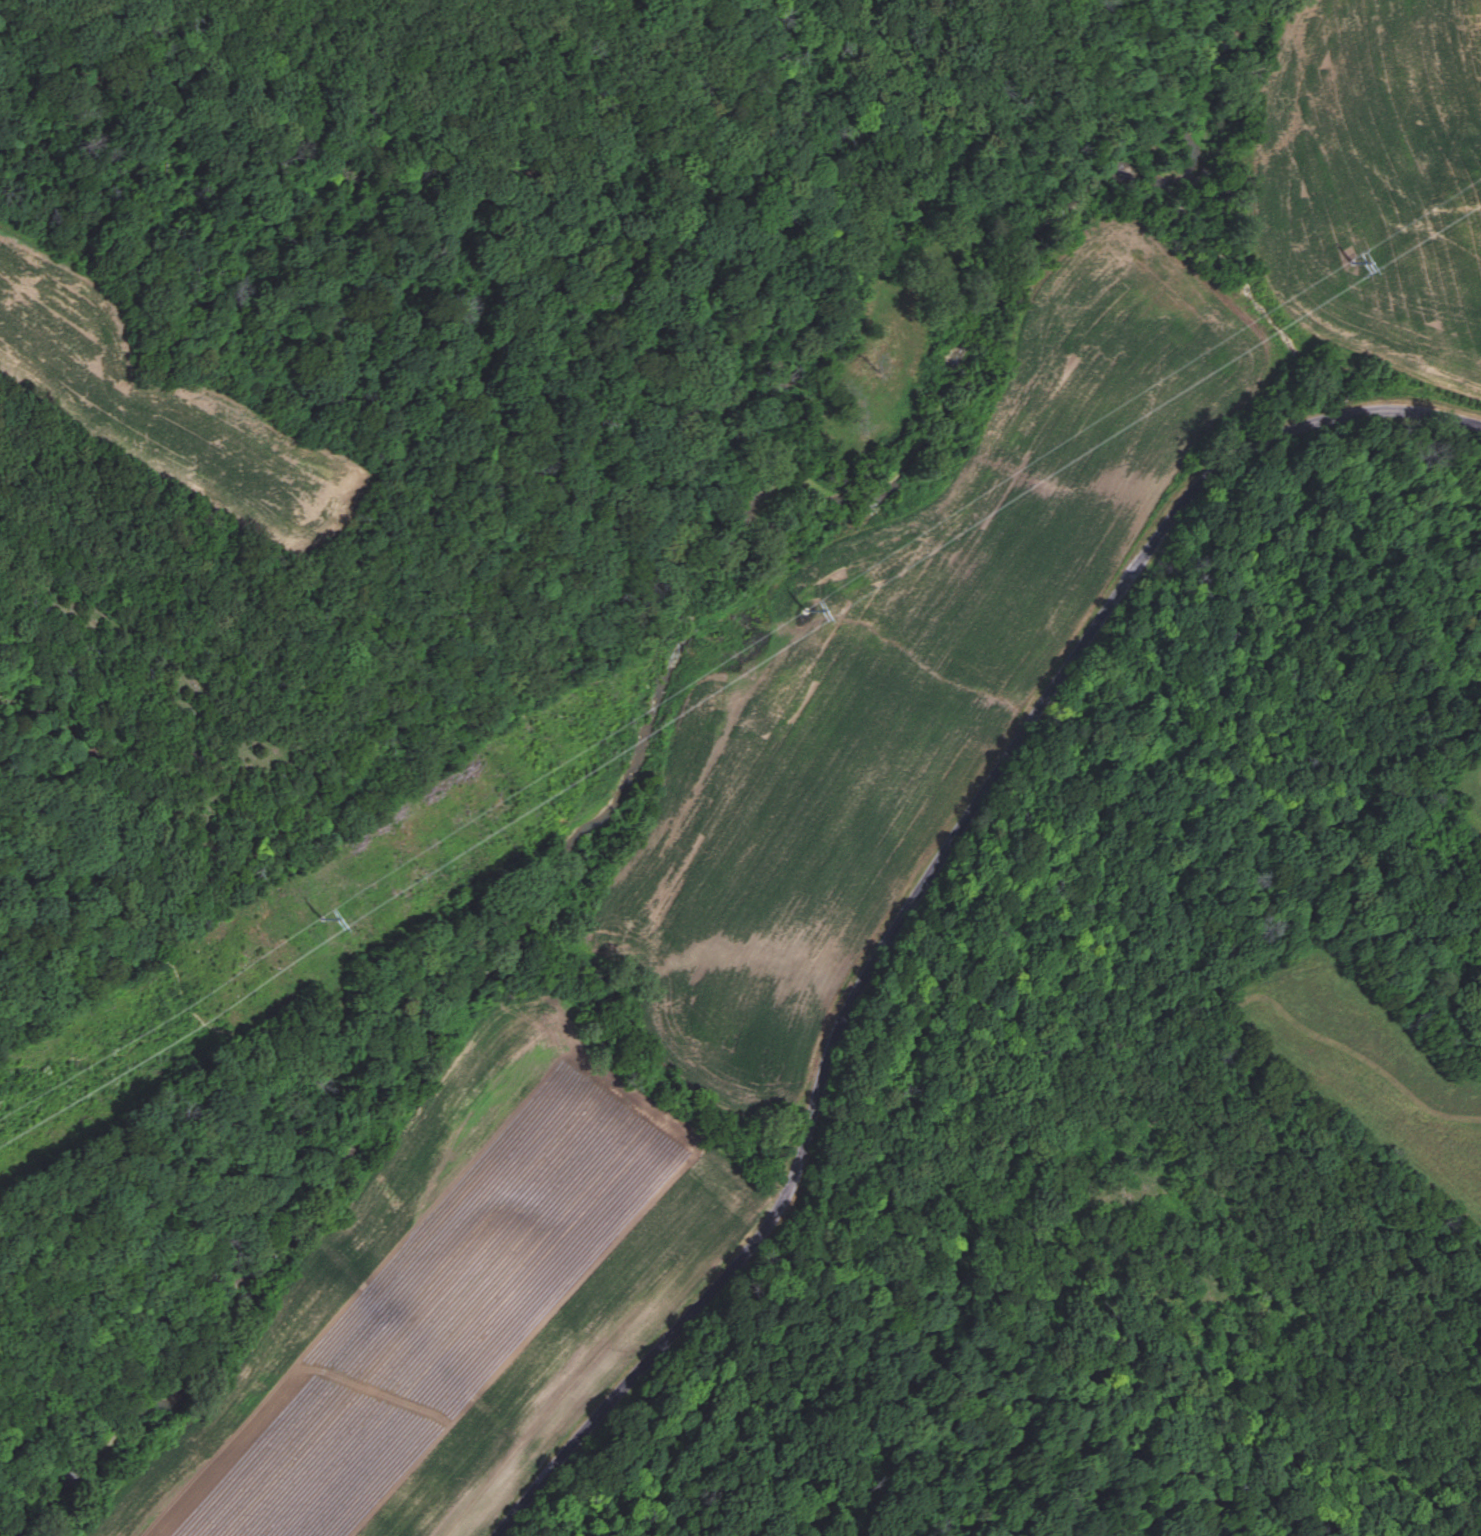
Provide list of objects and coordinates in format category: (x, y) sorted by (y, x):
power tower: (1353, 263)
power tower: (808, 610)
road: (927, 884)
power tower: (324, 917)

